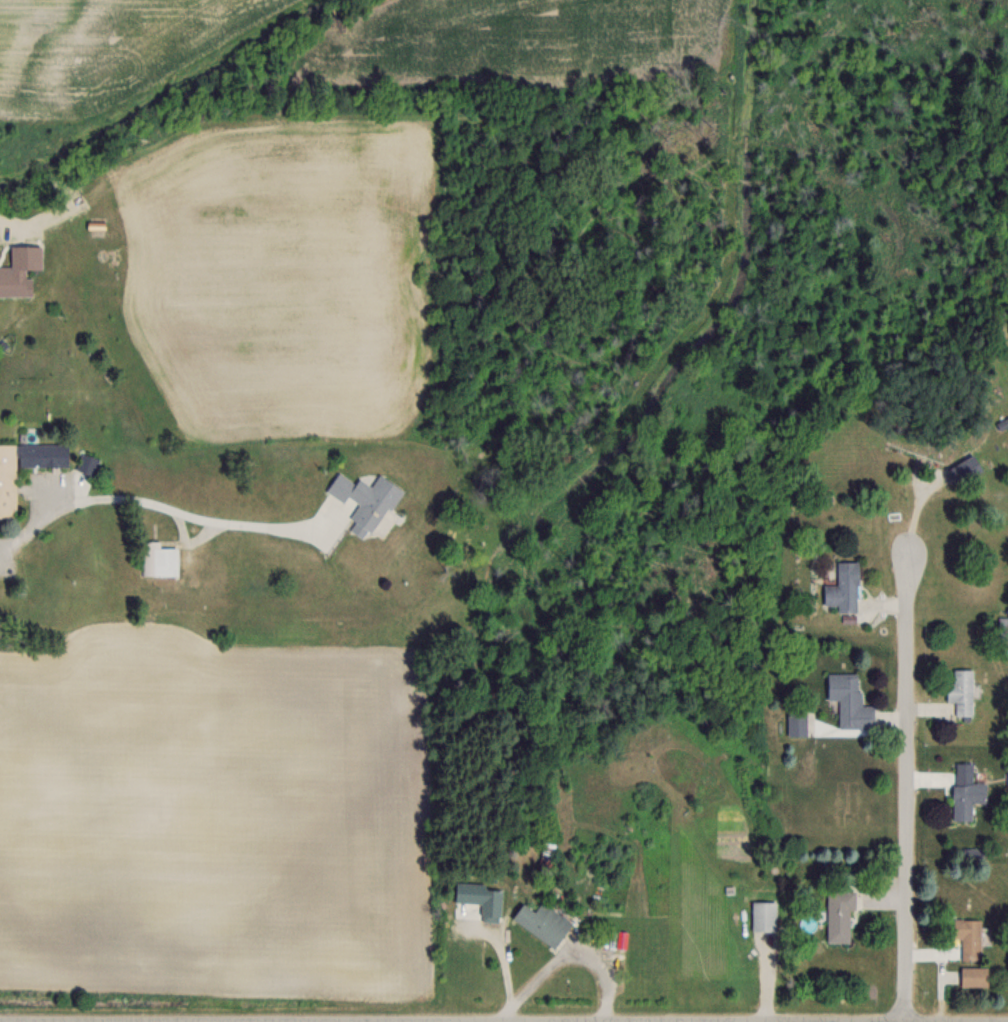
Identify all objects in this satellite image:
road: (1, 224)
building: (20, 264)
building: (88, 464)
building: (964, 470)
building: (7, 492)
building: (362, 502)
road: (44, 517)
road: (218, 522)
building: (158, 560)
building: (843, 588)
building: (1003, 630)
building: (962, 692)
building: (849, 701)
building: (796, 721)
road: (906, 786)
building: (965, 793)
building: (838, 914)
building: (763, 915)
building: (541, 922)
building: (968, 937)
building: (973, 976)

